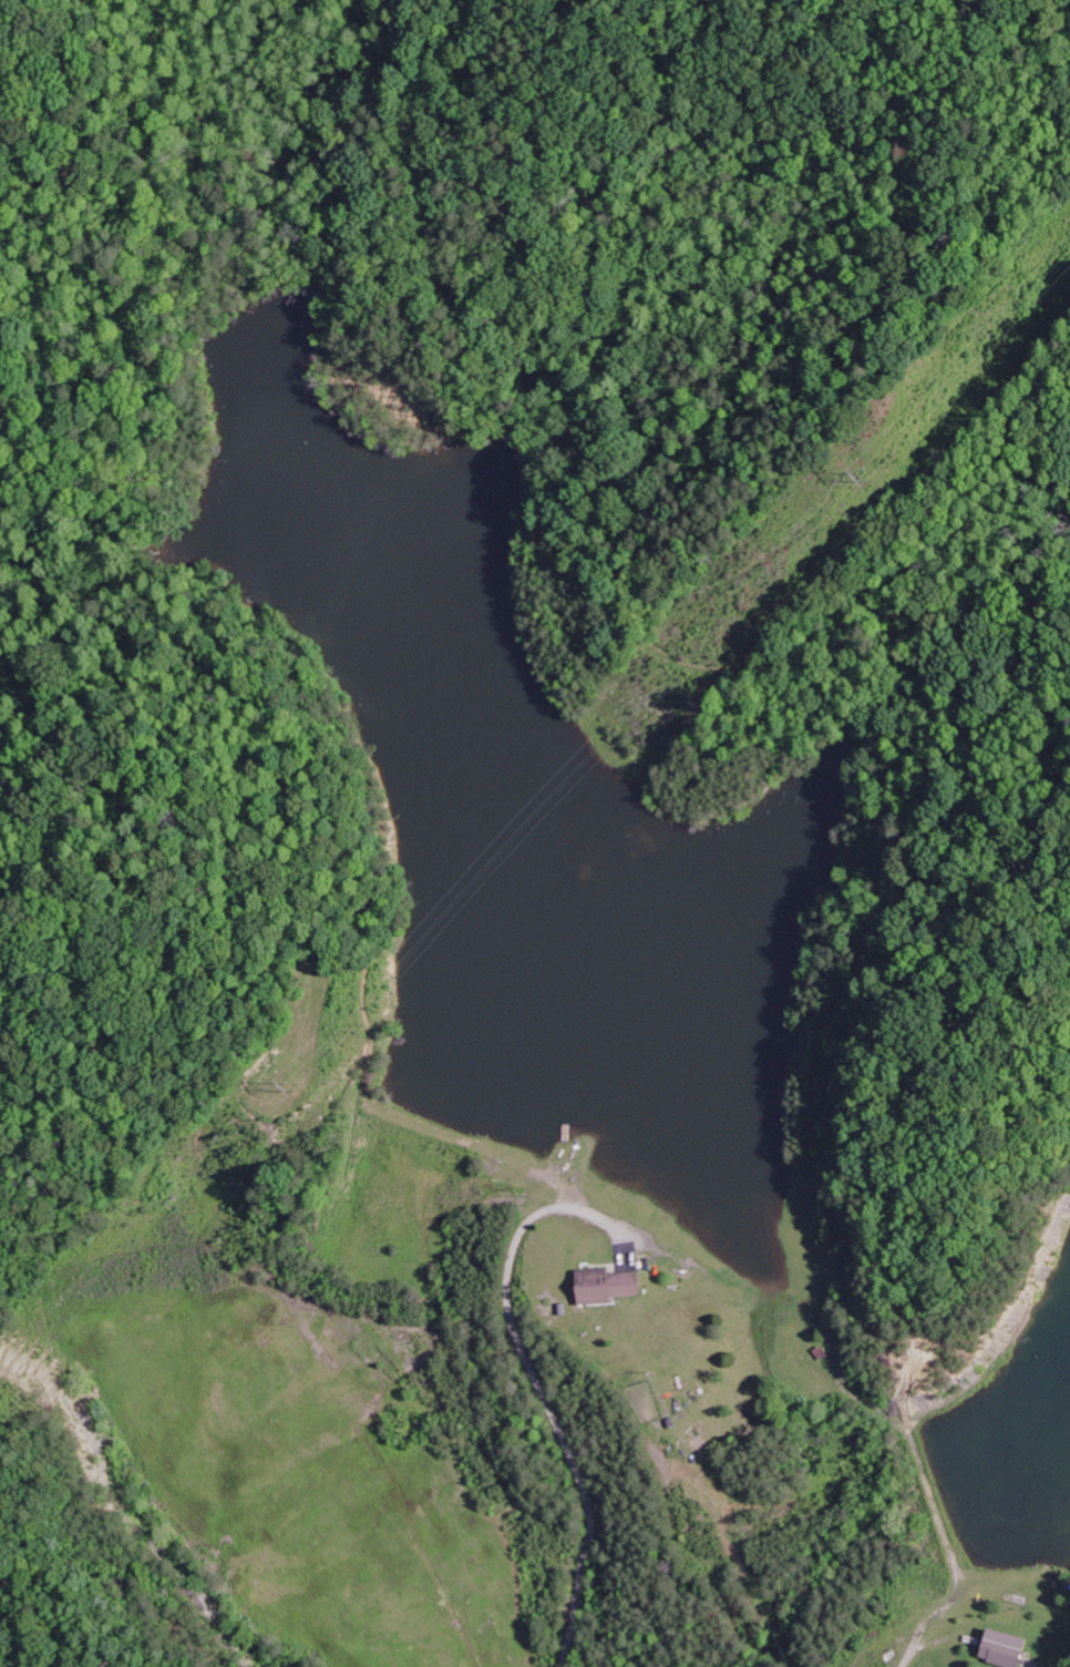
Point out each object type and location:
building: (615, 1285)
building: (1011, 1648)

